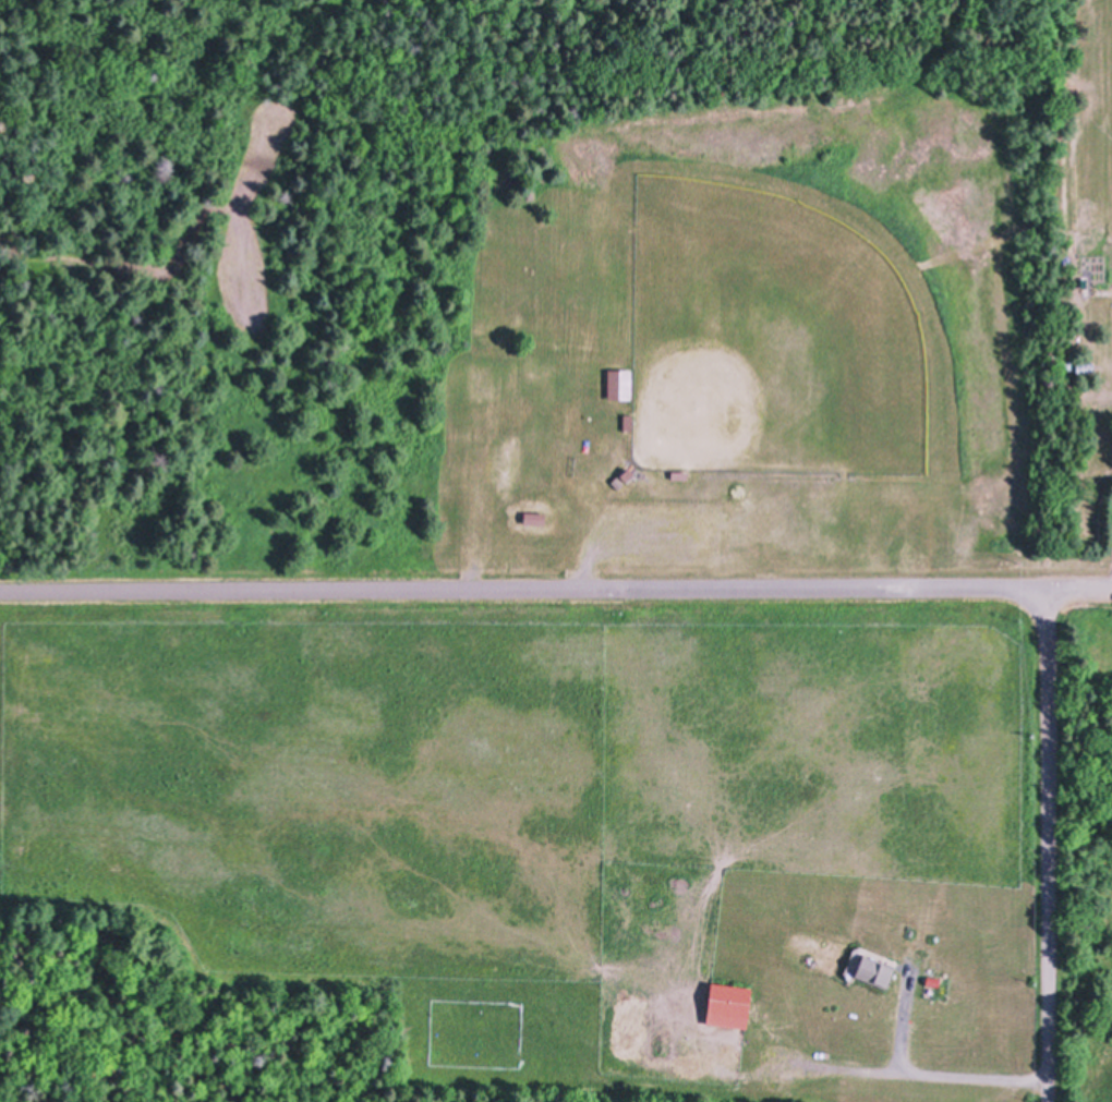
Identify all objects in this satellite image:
park: (733, 339)
building: (620, 382)
building: (629, 420)
building: (681, 473)
building: (684, 477)
building: (535, 516)
building: (540, 521)
road: (527, 586)
road: (1084, 588)
road: (1053, 845)
building: (877, 969)
building: (732, 1004)

